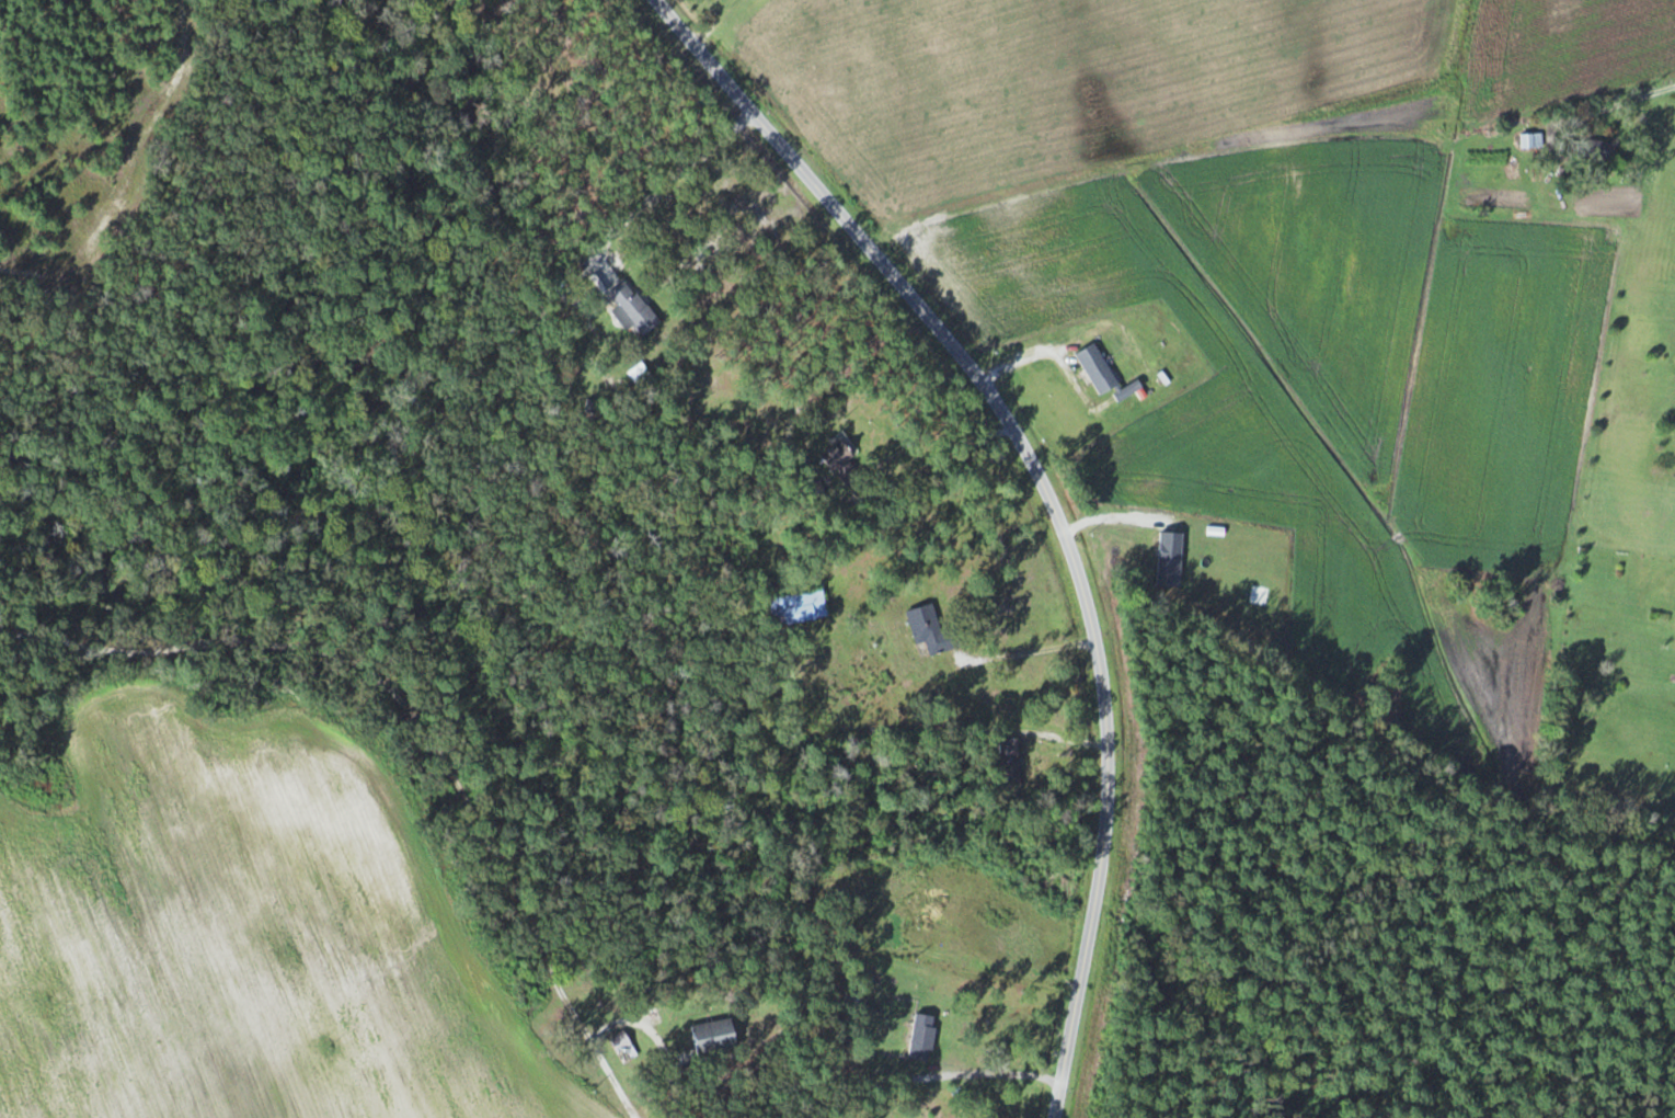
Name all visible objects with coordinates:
building: (544, 77)
building: (1534, 141)
building: (1598, 151)
road: (1580, 228)
building: (634, 307)
river: (344, 386)
building: (840, 455)
road: (1049, 494)
building: (800, 607)
building: (933, 631)
road: (415, 723)
building: (1011, 762)
building: (917, 904)
building: (714, 1037)
building: (620, 1040)
building: (917, 1045)

